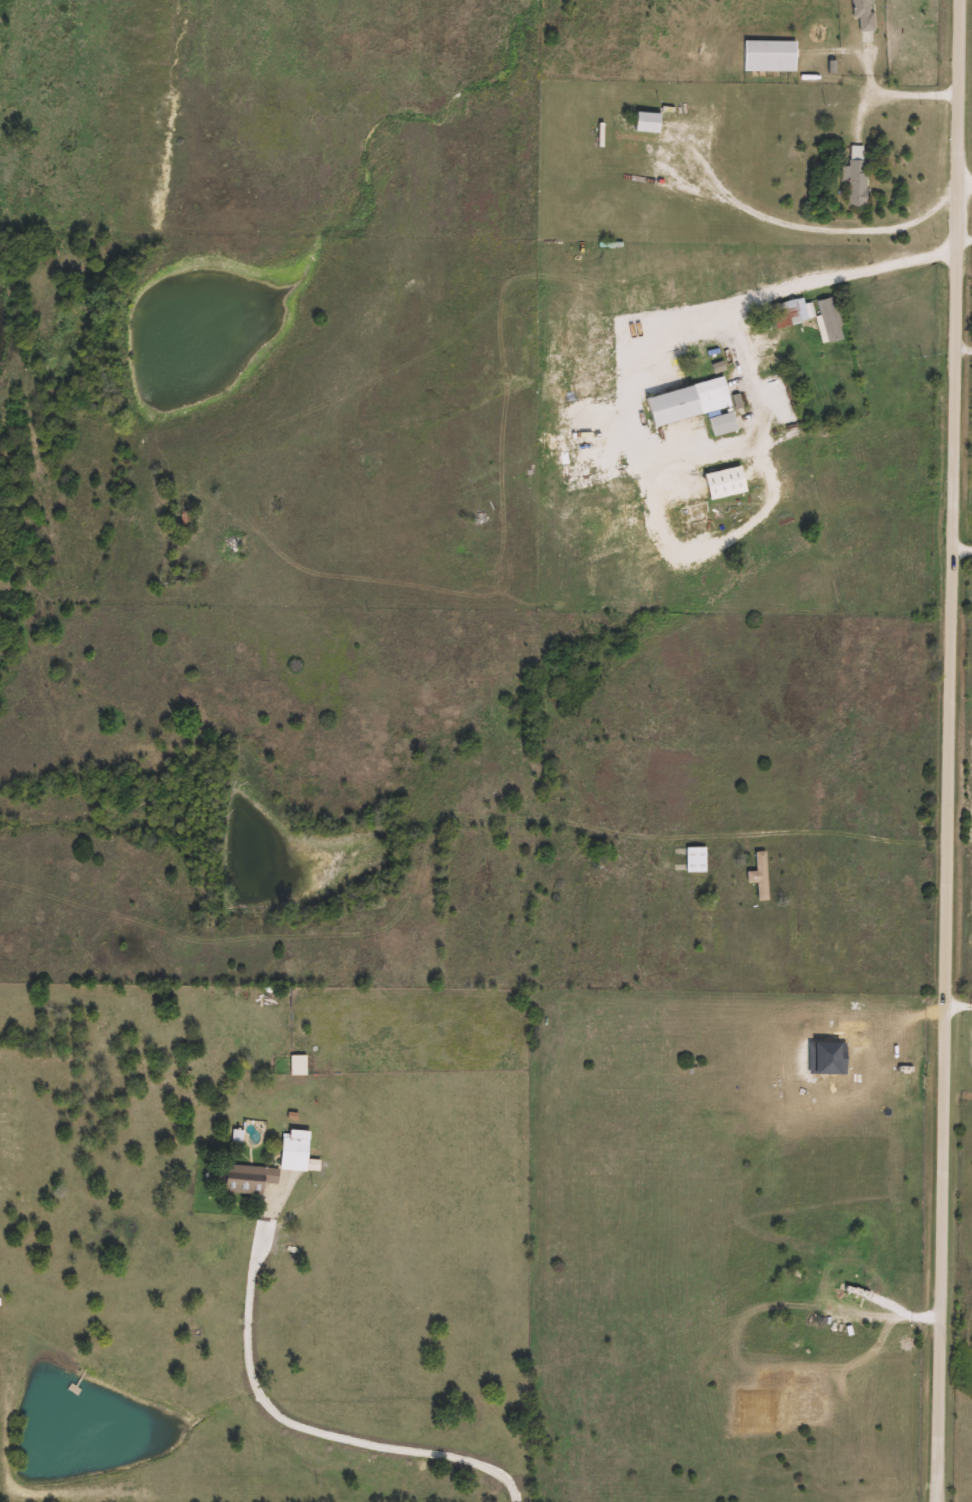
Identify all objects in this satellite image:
building: (865, 14)
building: (771, 56)
road: (920, 95)
building: (649, 122)
building: (857, 182)
road: (968, 187)
road: (755, 211)
road: (967, 246)
road: (830, 281)
building: (787, 314)
building: (831, 320)
building: (689, 402)
building: (724, 424)
road: (706, 457)
road: (965, 548)
road: (698, 554)
road: (955, 751)
road: (824, 833)
building: (697, 858)
building: (761, 874)
building: (300, 1064)
building: (296, 1147)
building: (217, 1174)
building: (251, 1178)
building: (877, 1294)
road: (872, 1352)
road: (301, 1424)

